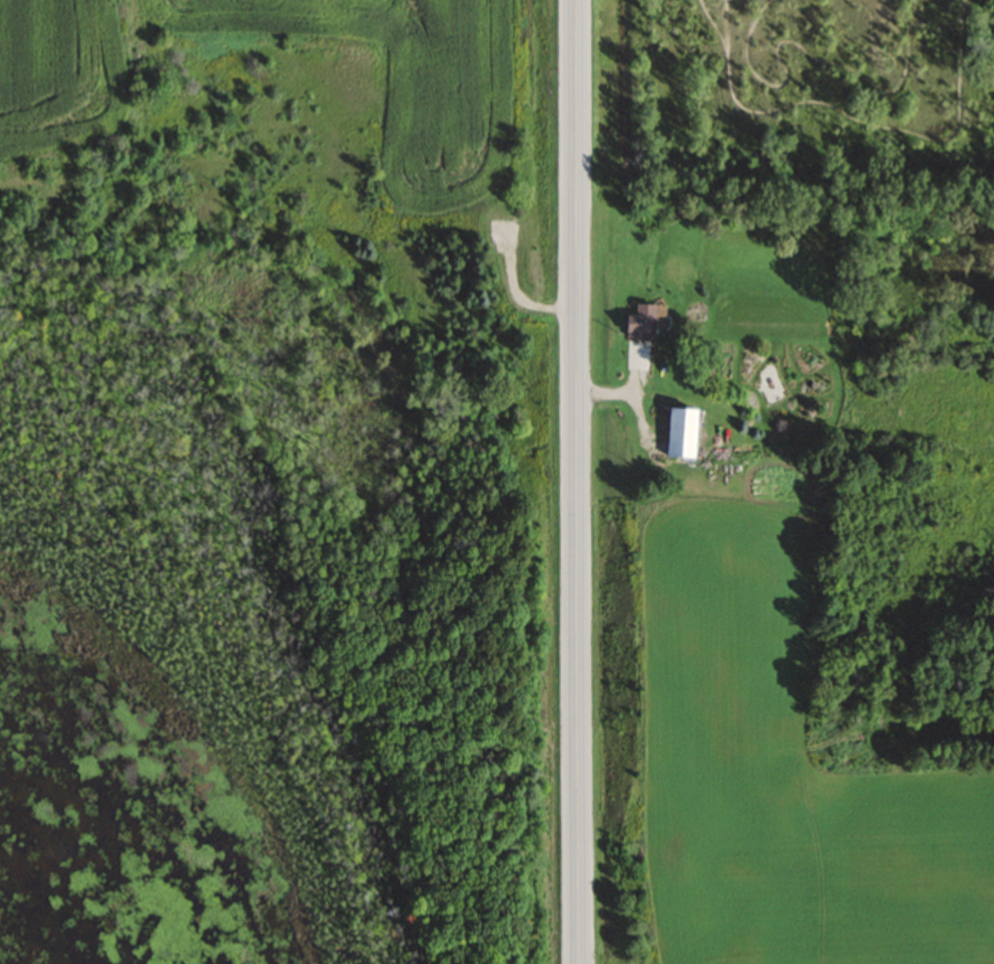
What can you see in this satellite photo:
building: (639, 323)
building: (679, 433)
road: (578, 481)

